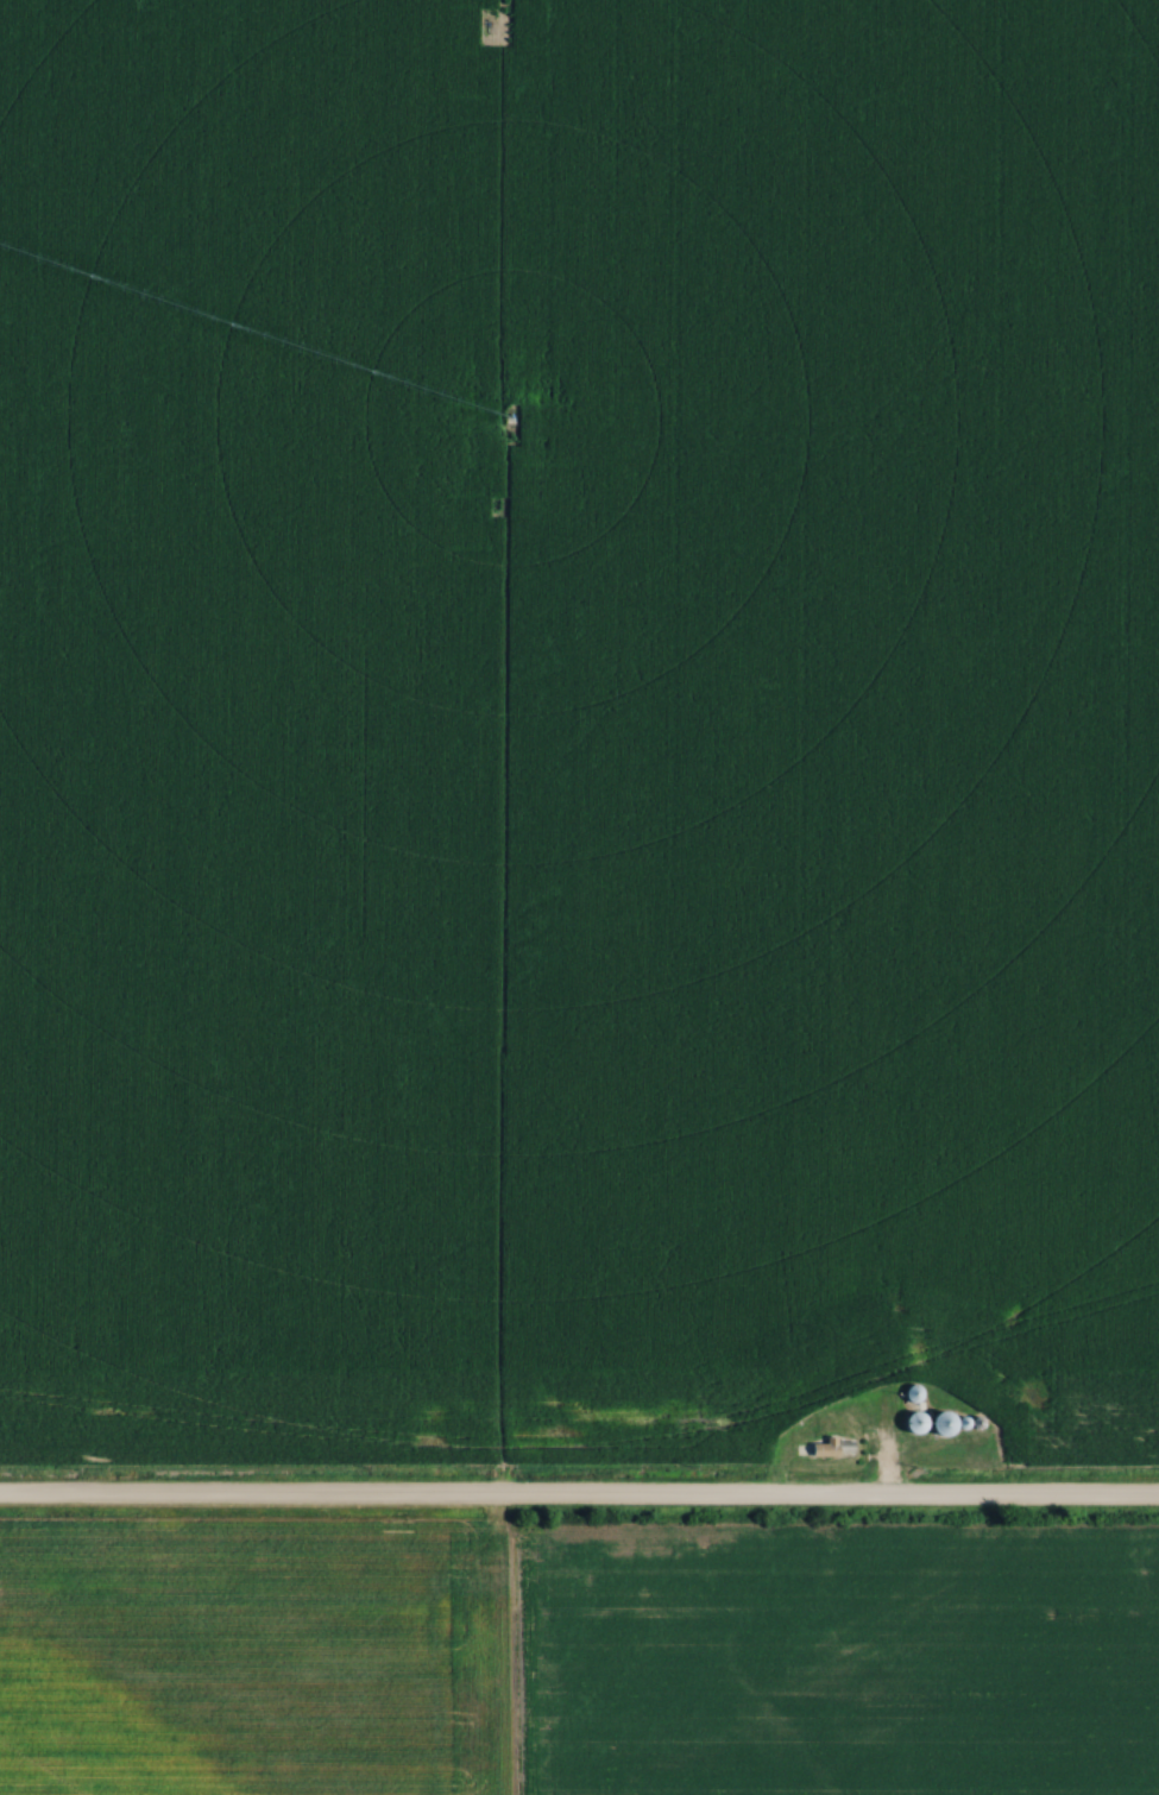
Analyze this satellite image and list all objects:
building: (911, 1393)
building: (911, 1423)
building: (939, 1424)
building: (821, 1448)
road: (579, 1503)

